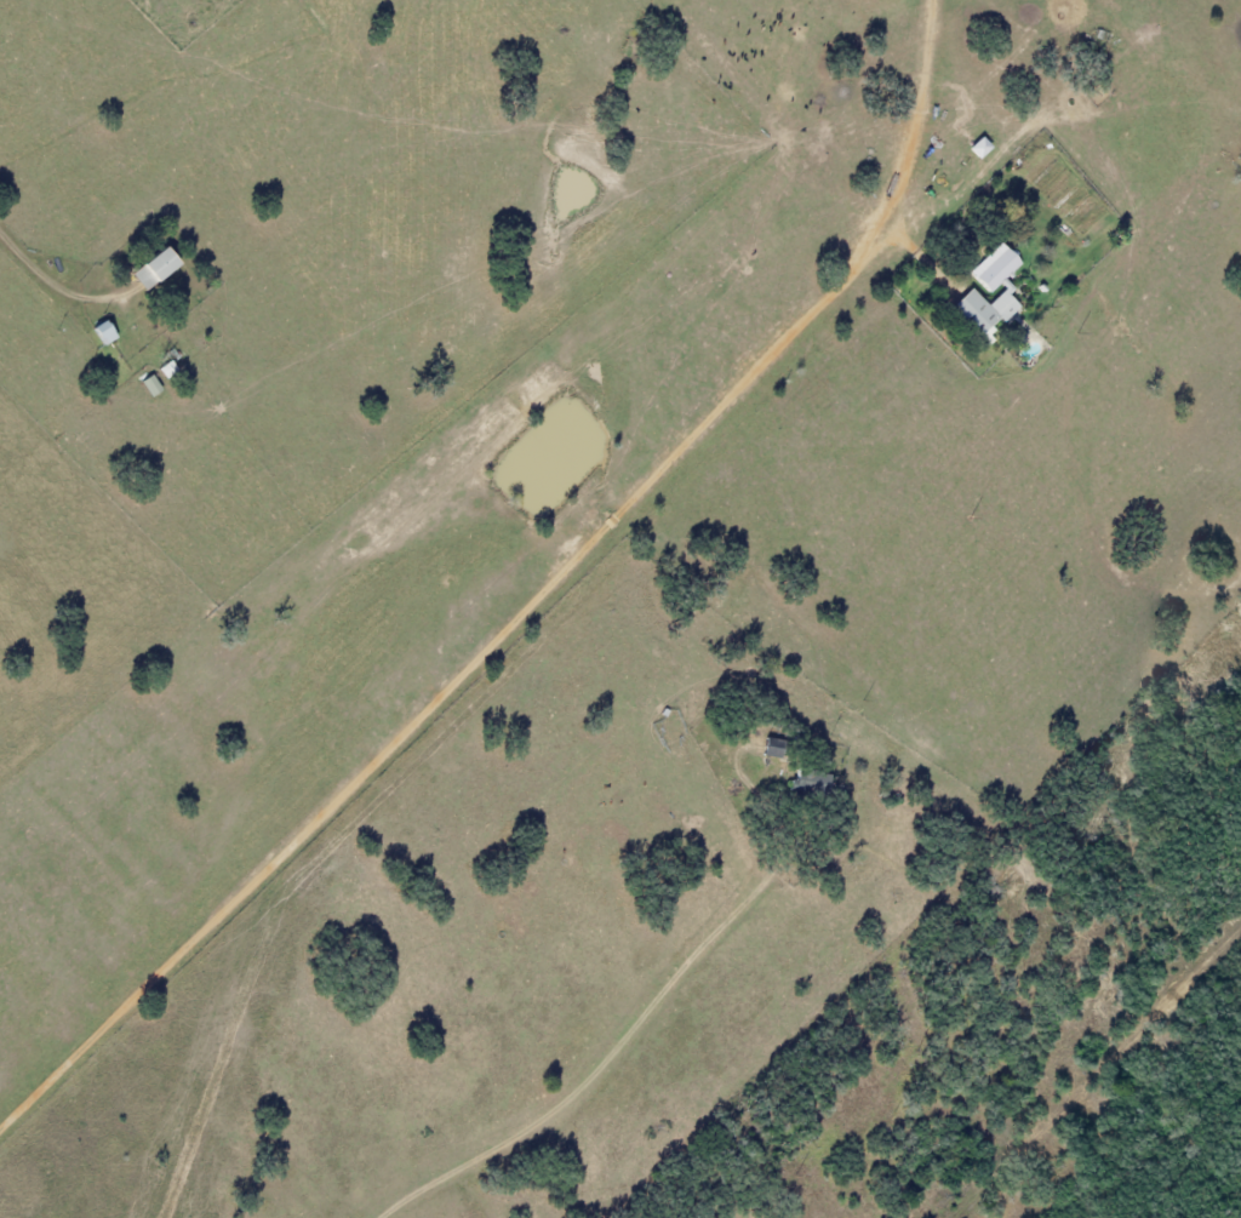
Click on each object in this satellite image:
building: (979, 147)
building: (153, 268)
building: (970, 295)
building: (151, 384)
road: (351, 1062)

